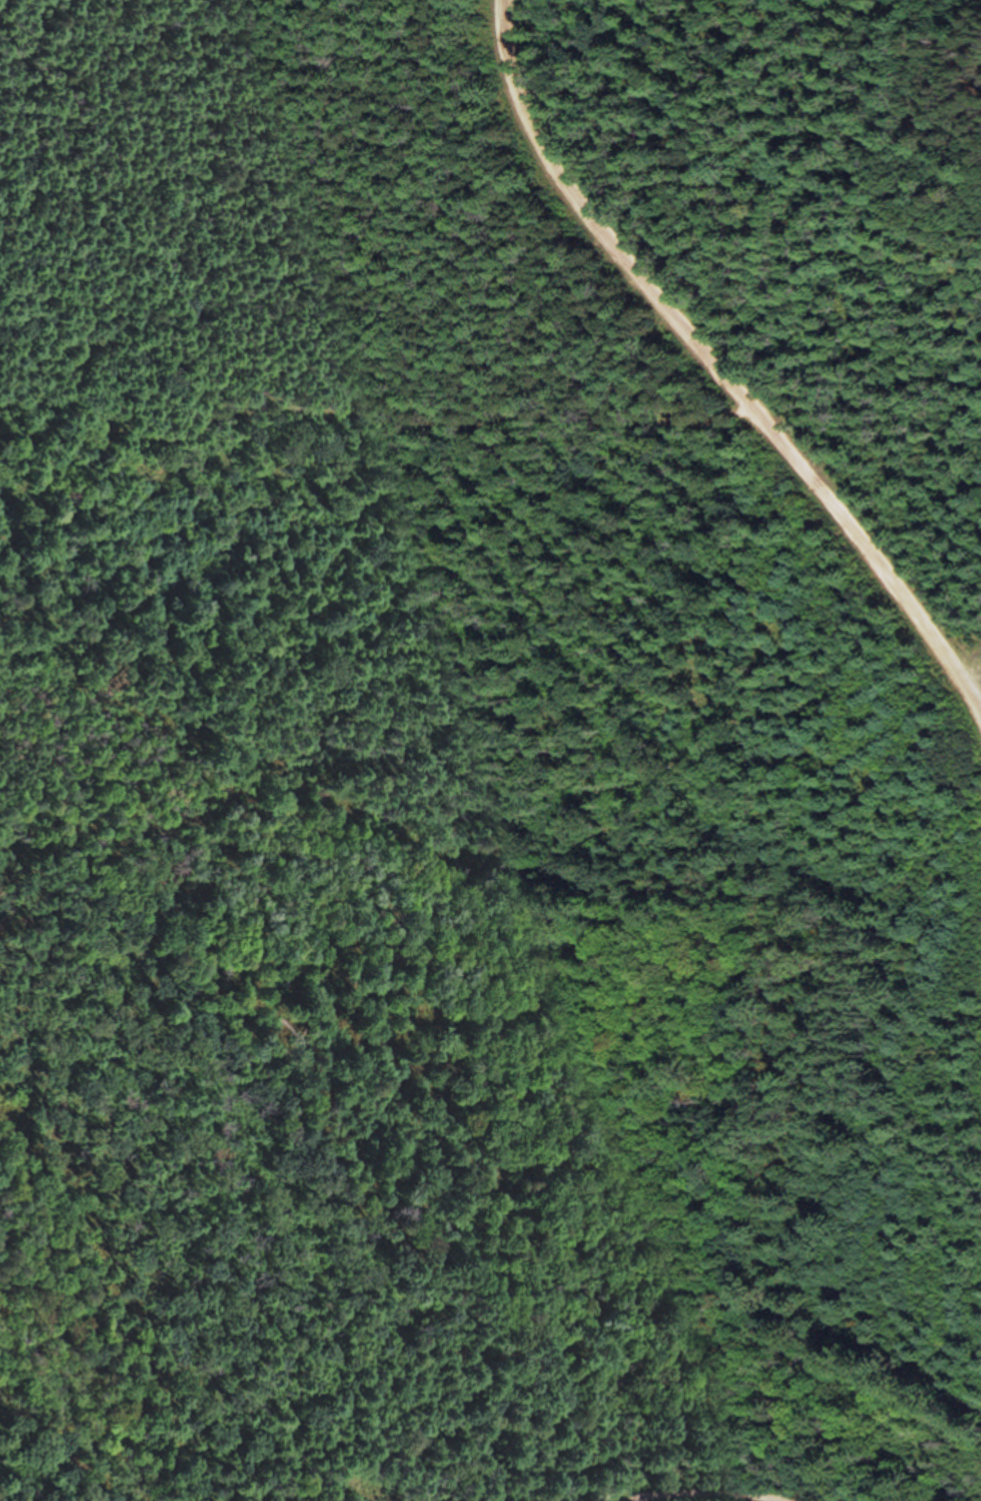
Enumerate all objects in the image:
road: (713, 356)

